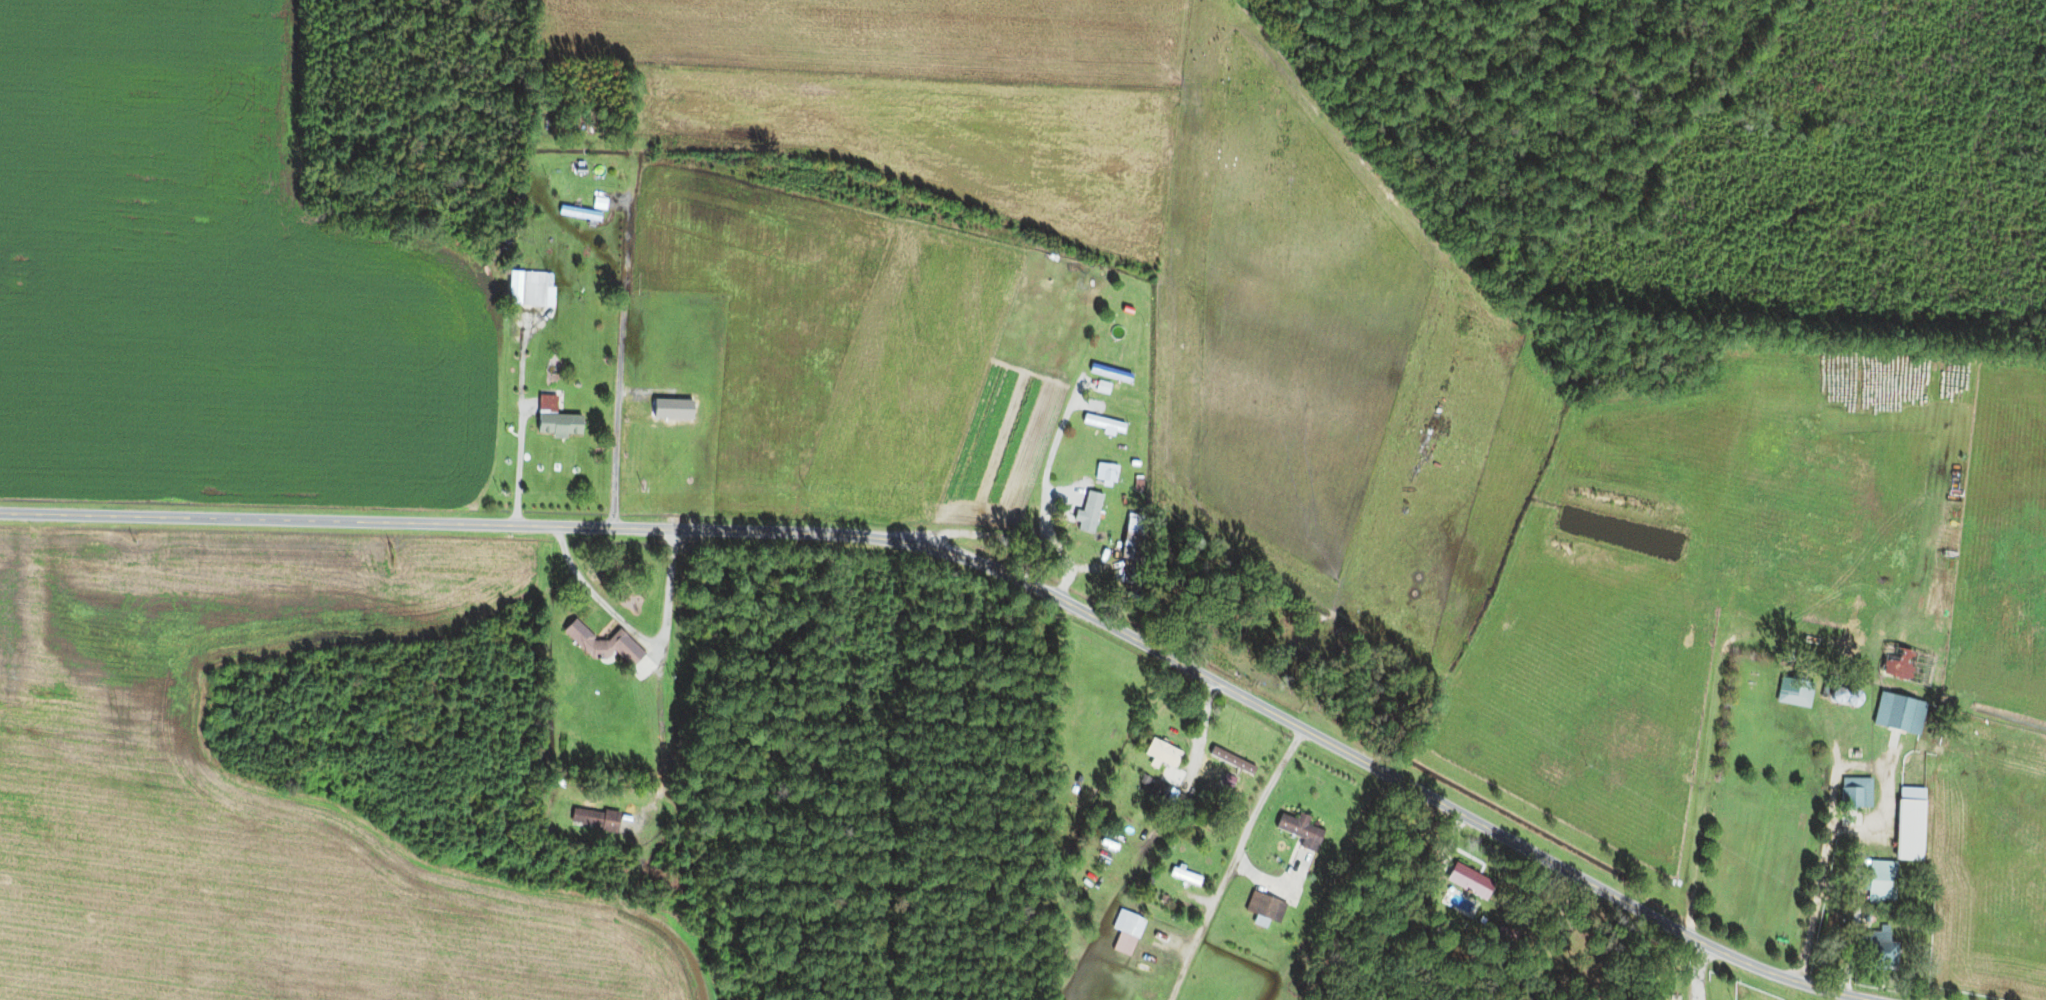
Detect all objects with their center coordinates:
building: (599, 204)
building: (579, 214)
building: (1110, 373)
building: (554, 418)
building: (1088, 513)
building: (1130, 546)
road: (983, 569)
road: (667, 593)
building: (605, 645)
building: (1906, 667)
building: (1795, 693)
building: (1899, 714)
building: (1162, 754)
building: (1550, 771)
building: (1856, 794)
building: (593, 819)
building: (1909, 824)
building: (1303, 826)
road: (1231, 862)
building: (1185, 876)
building: (1472, 876)
building: (1882, 881)
building: (1264, 908)
building: (1128, 923)
building: (1880, 950)

